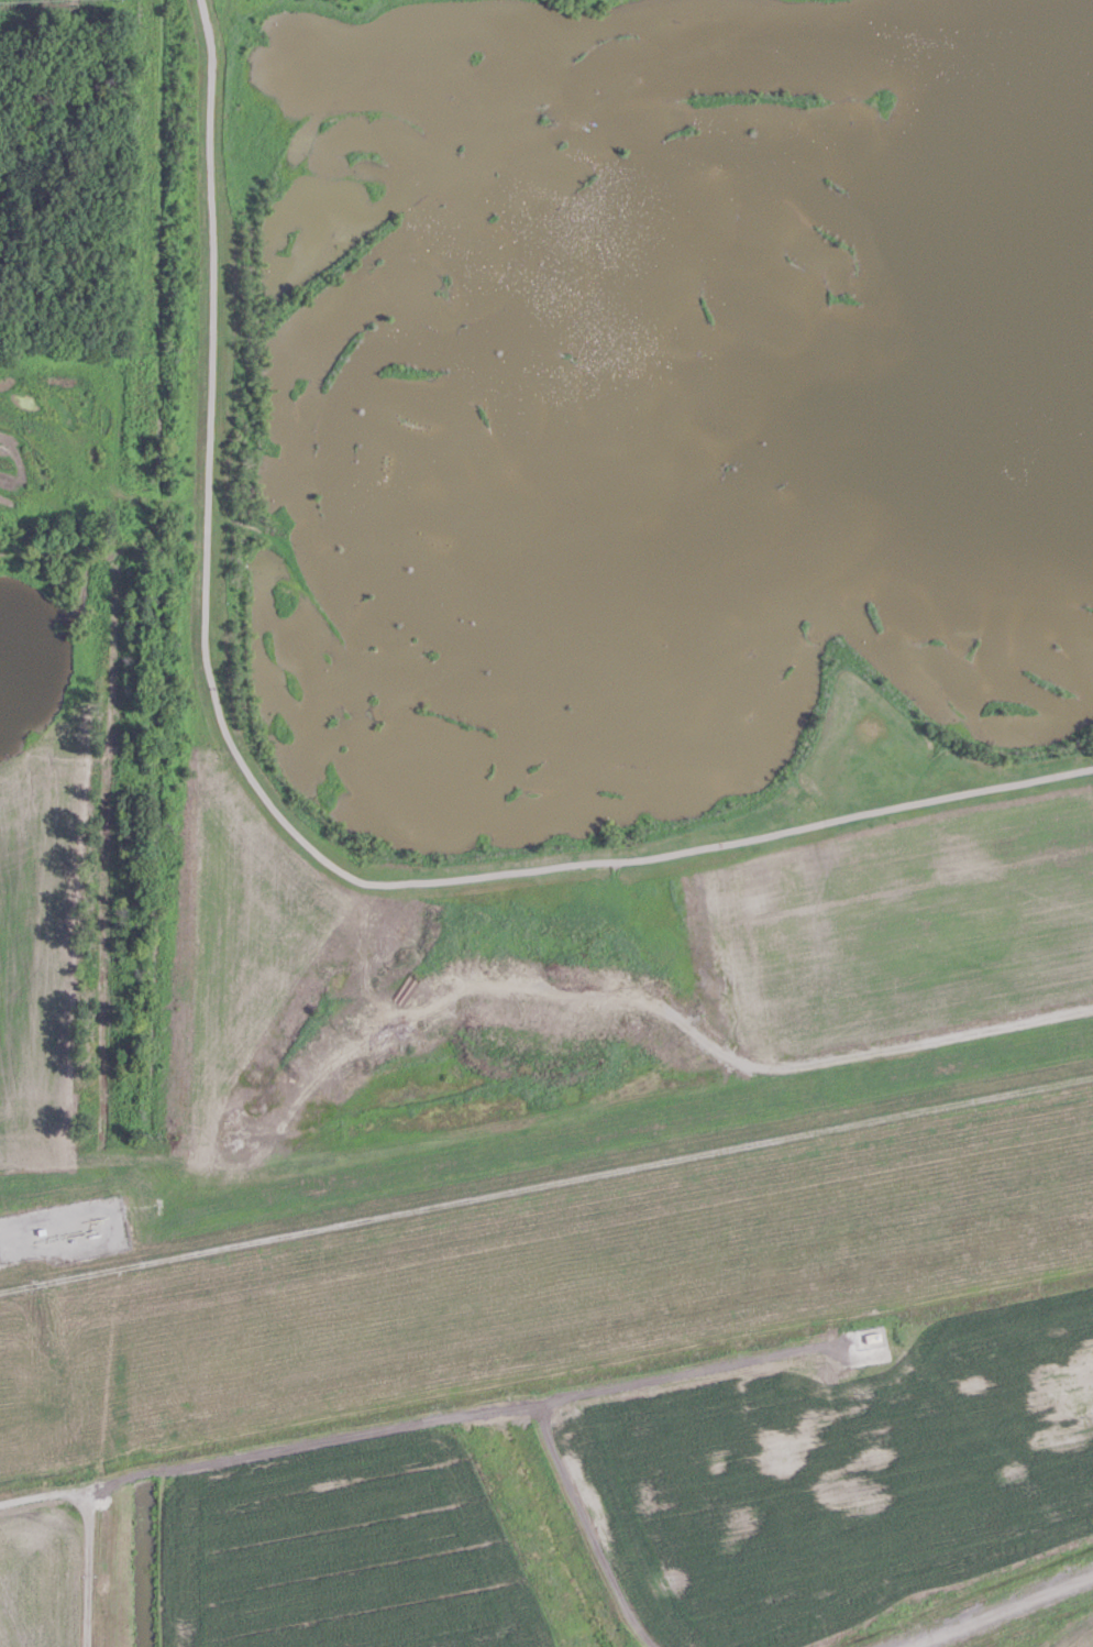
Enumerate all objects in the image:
park: (529, 594)
road: (284, 819)
road: (565, 1401)
road: (330, 1443)
road: (16, 1557)
road: (77, 1589)
road: (1000, 1608)

